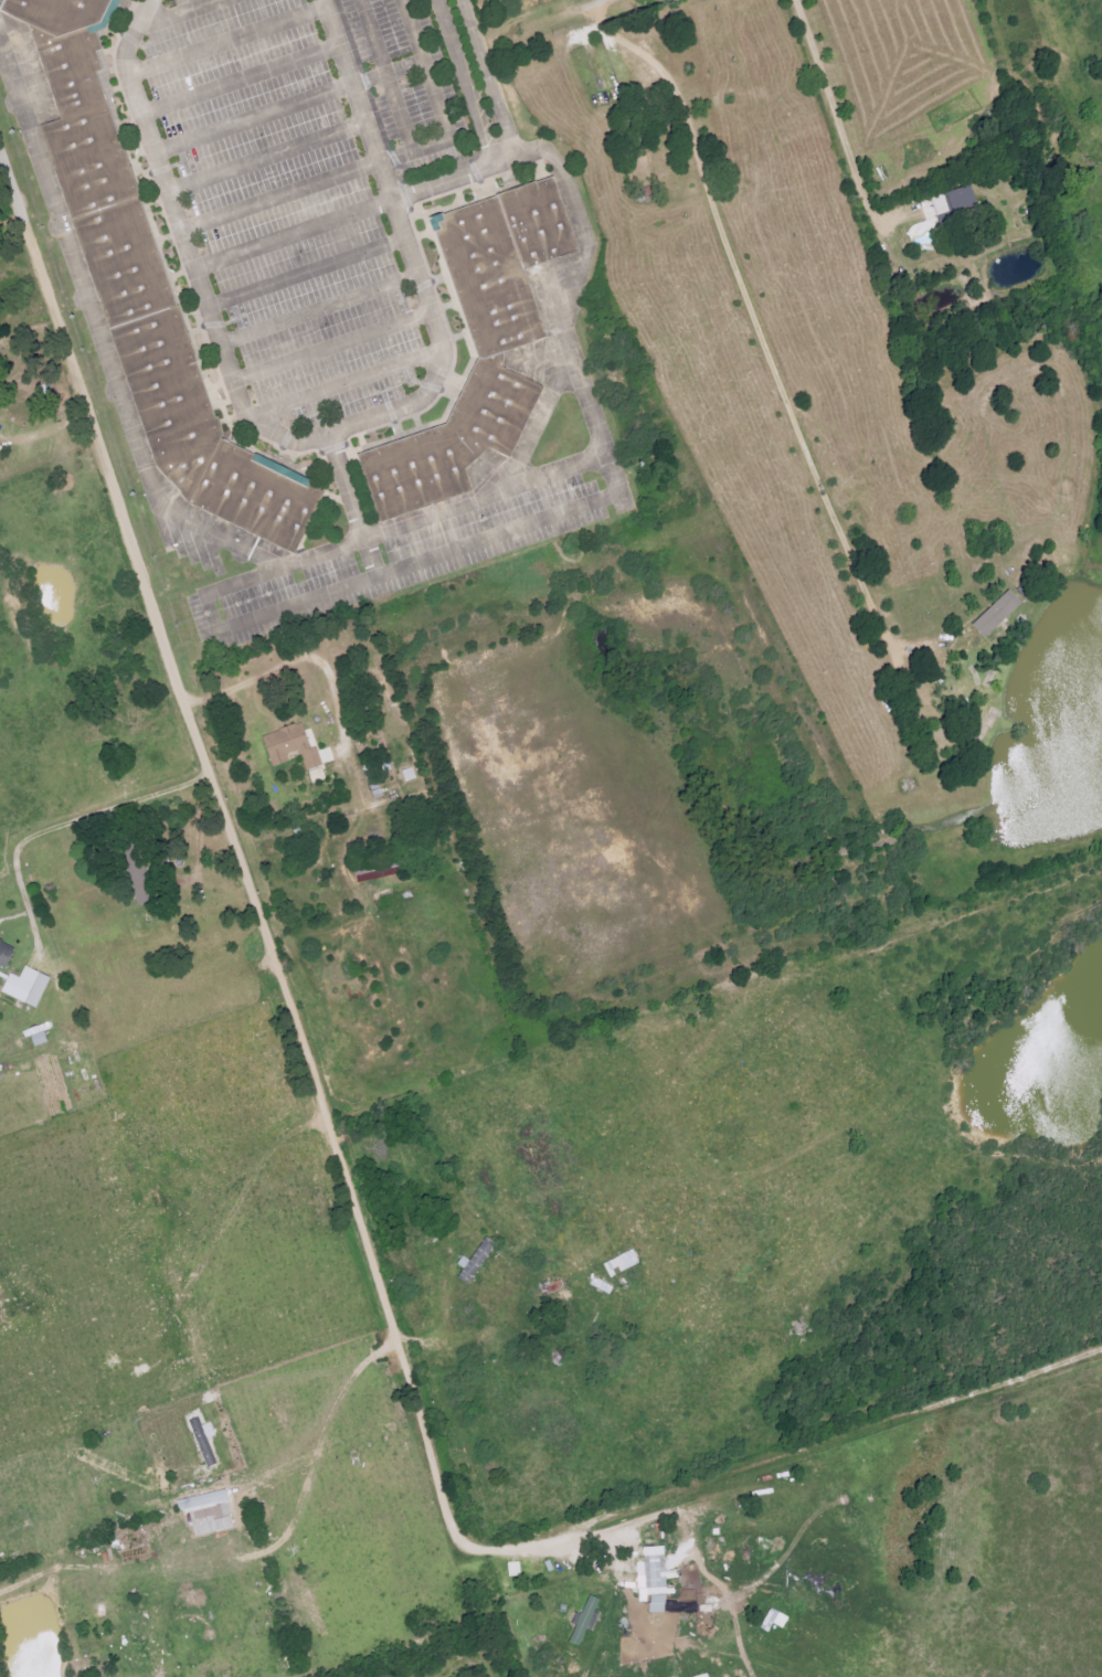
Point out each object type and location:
road: (171, 8)
road: (573, 12)
building: (53, 13)
road: (230, 40)
parking lot: (28, 67)
road: (390, 74)
road: (489, 76)
road: (243, 79)
road: (465, 81)
road: (256, 117)
road: (835, 121)
road: (269, 156)
road: (386, 159)
parking lot: (306, 182)
building: (964, 199)
building: (941, 203)
road: (21, 205)
road: (296, 233)
building: (497, 258)
road: (308, 270)
building: (147, 308)
road: (319, 308)
road: (751, 319)
road: (332, 346)
road: (346, 383)
road: (324, 437)
building: (444, 441)
road: (598, 444)
road: (354, 506)
road: (343, 542)
parking lot: (398, 561)
road: (379, 576)
building: (998, 613)
road: (303, 661)
building: (293, 746)
building: (327, 755)
building: (318, 774)
road: (66, 820)
road: (165, 868)
building: (377, 871)
building: (3, 958)
road: (277, 973)
building: (29, 986)
building: (39, 1036)
building: (477, 1260)
building: (623, 1262)
building: (555, 1292)
building: (204, 1443)
building: (204, 1499)
building: (213, 1518)
road: (553, 1541)
building: (776, 1618)

